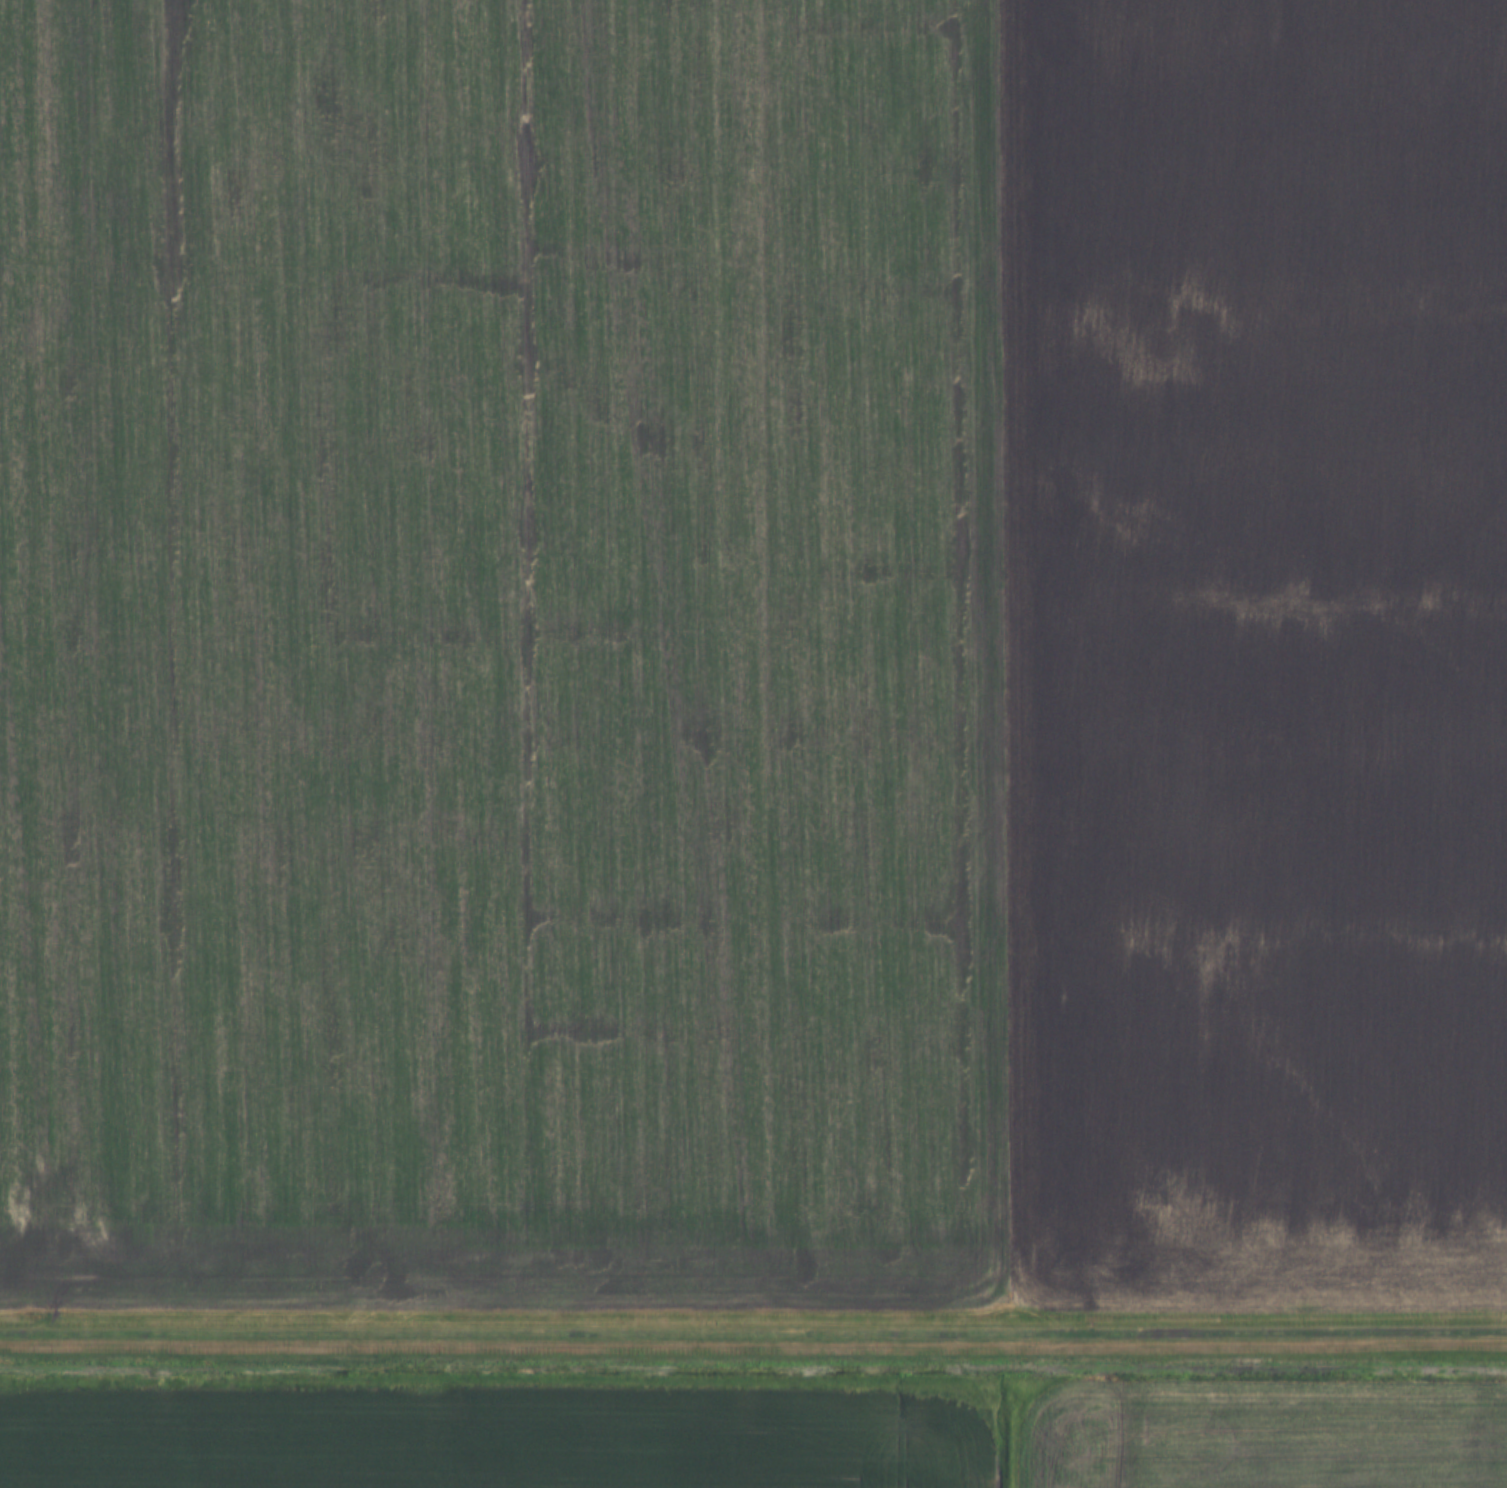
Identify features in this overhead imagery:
road: (753, 1335)

